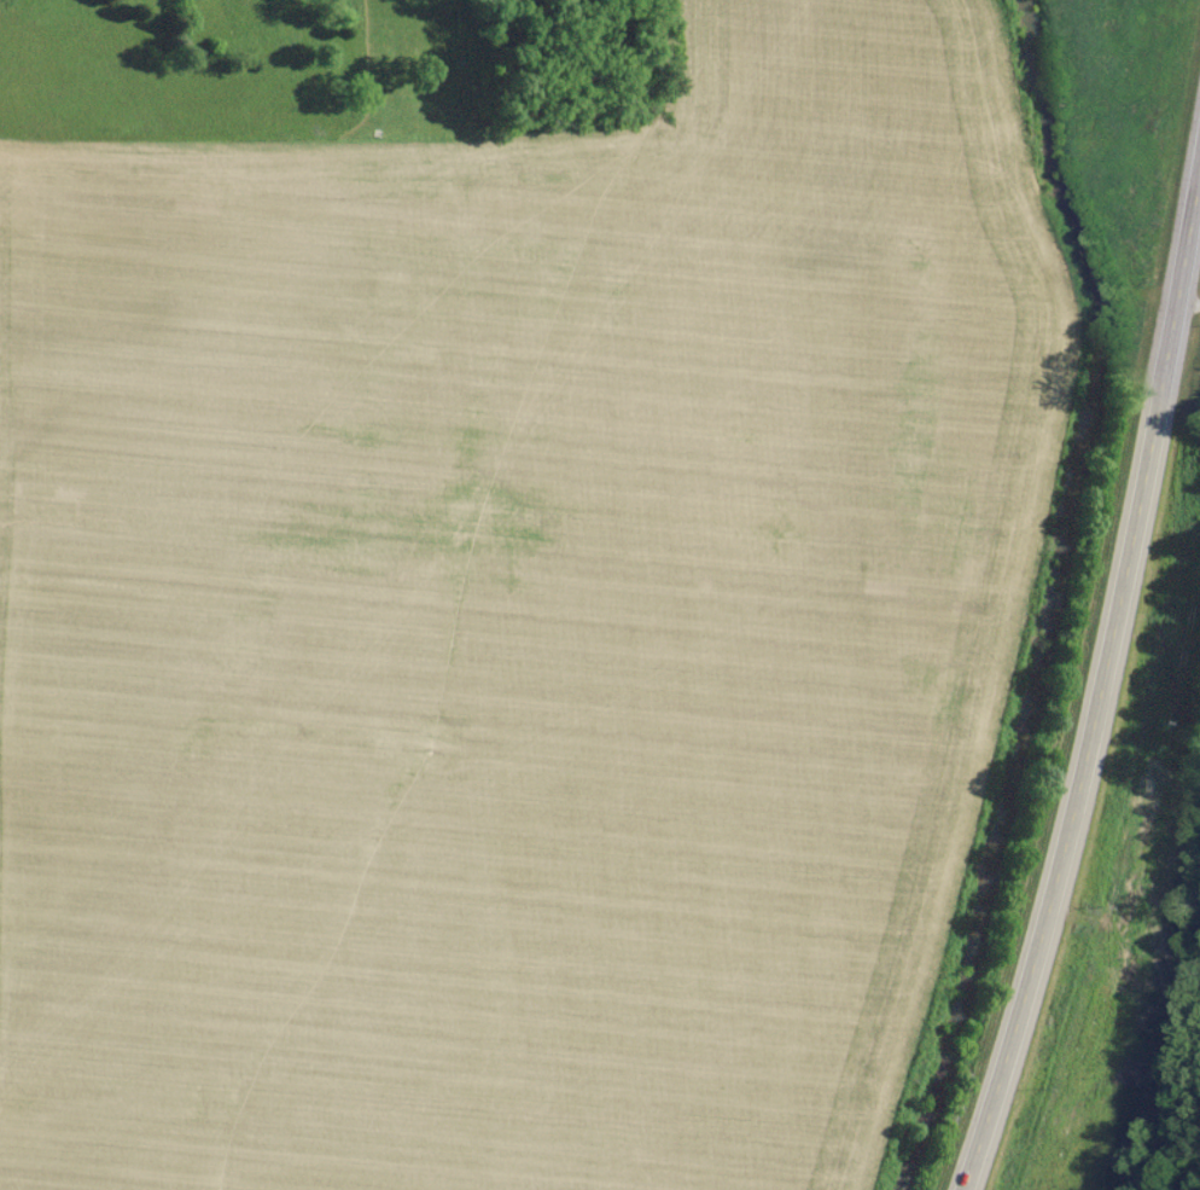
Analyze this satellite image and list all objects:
road: (1100, 681)

